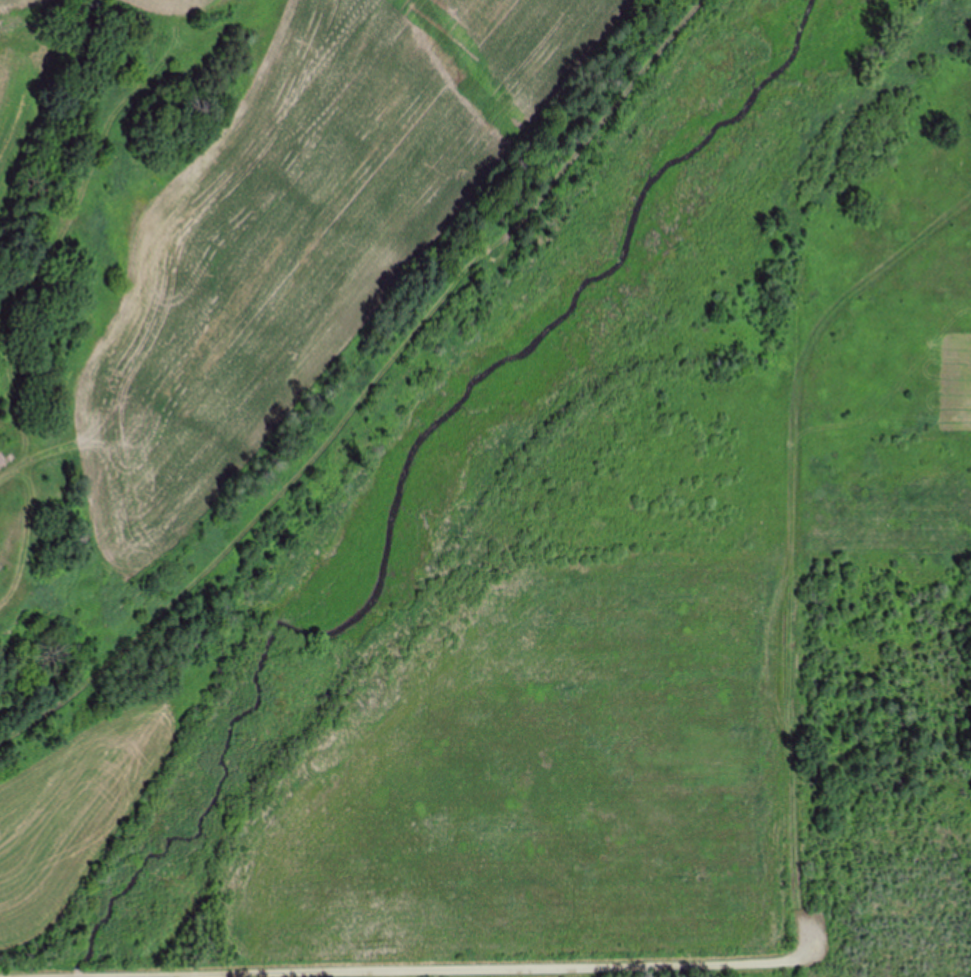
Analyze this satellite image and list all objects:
road: (599, 127)
road: (717, 976)

